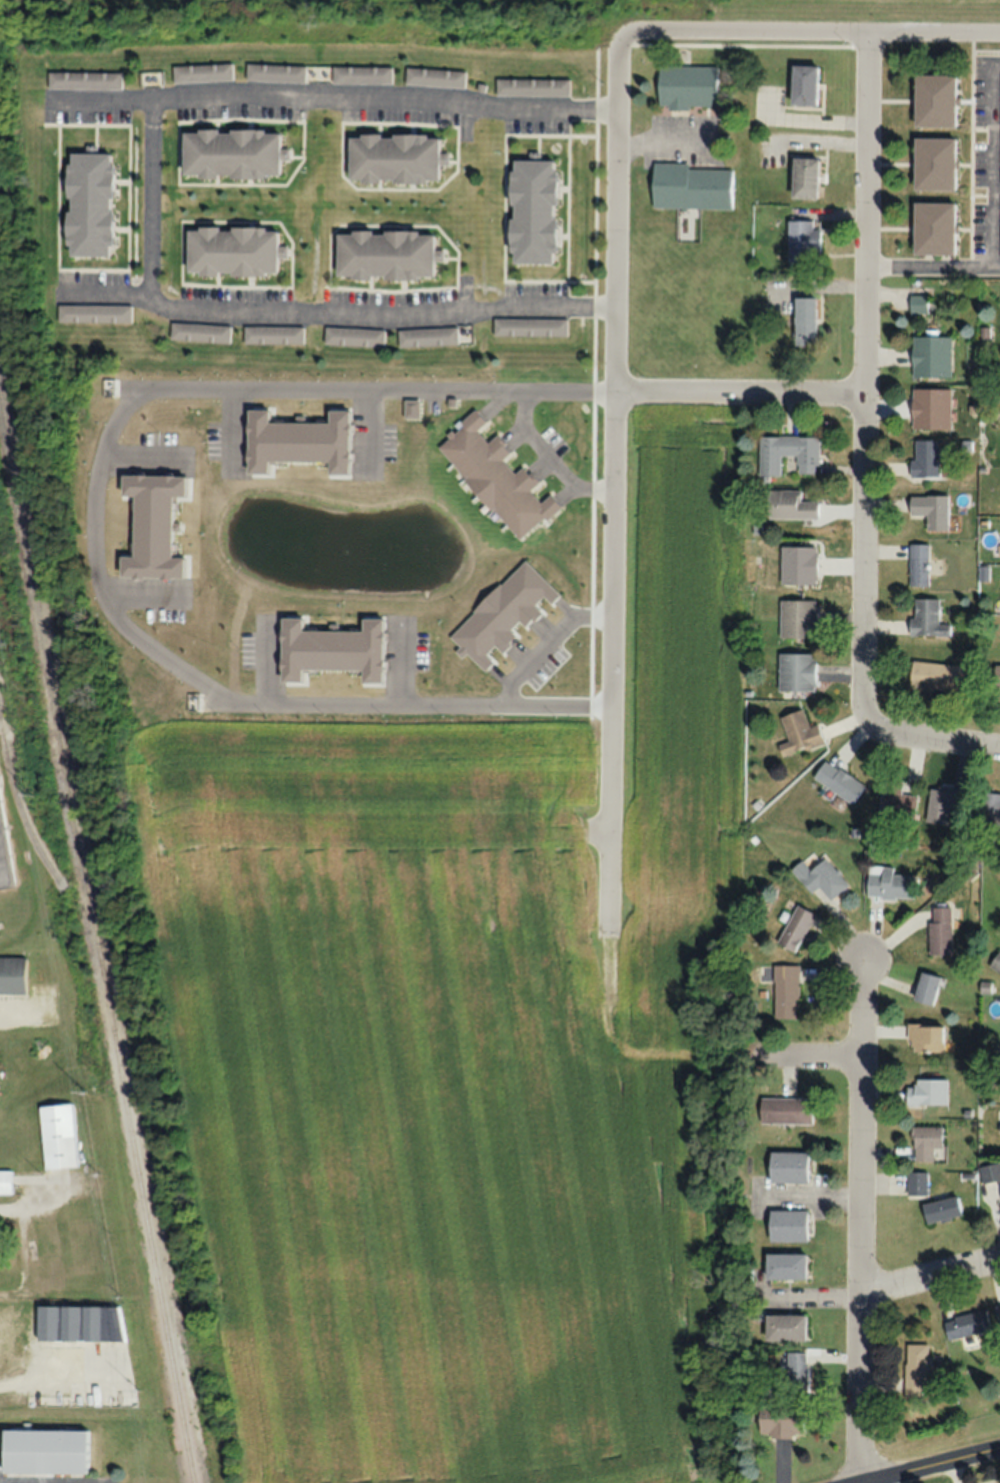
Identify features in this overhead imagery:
crop: (862, 10)
road: (745, 30)
road: (934, 32)
building: (201, 71)
building: (274, 71)
building: (360, 73)
building: (433, 76)
building: (803, 84)
building: (686, 85)
building: (531, 86)
road: (336, 96)
road: (868, 99)
building: (933, 99)
building: (229, 152)
building: (392, 157)
building: (933, 162)
road: (991, 162)
building: (803, 177)
building: (691, 186)
road: (150, 198)
building: (87, 202)
building: (530, 210)
building: (932, 226)
building: (999, 226)
building: (802, 240)
building: (230, 249)
building: (383, 254)
road: (933, 268)
building: (917, 303)
building: (93, 312)
road: (334, 315)
building: (804, 320)
building: (529, 326)
building: (198, 331)
building: (272, 334)
building: (353, 336)
building: (427, 336)
building: (930, 356)
road: (740, 390)
building: (930, 408)
road: (866, 418)
building: (298, 423)
building: (787, 452)
building: (924, 457)
building: (493, 475)
road: (612, 479)
building: (789, 504)
building: (930, 510)
road: (95, 518)
building: (797, 563)
building: (917, 563)
building: (797, 618)
building: (926, 618)
building: (795, 671)
building: (936, 675)
building: (996, 675)
building: (798, 733)
road: (907, 735)
building: (838, 781)
building: (895, 800)
building: (943, 802)
building: (992, 808)
road: (598, 830)
building: (3, 866)
building: (823, 879)
building: (889, 883)
railway: (63, 890)
building: (795, 928)
building: (940, 930)
railway: (97, 940)
building: (996, 963)
building: (11, 975)
building: (926, 988)
building: (785, 991)
building: (925, 1037)
road: (805, 1053)
building: (927, 1092)
building: (784, 1110)
building: (56, 1136)
building: (925, 1141)
building: (787, 1167)
building: (990, 1172)
building: (4, 1181)
building: (916, 1182)
building: (999, 1188)
building: (940, 1209)
road: (859, 1217)
building: (787, 1225)
building: (784, 1266)
road: (929, 1279)
building: (998, 1311)
building: (79, 1323)
building: (966, 1324)
building: (784, 1328)
building: (917, 1368)
building: (795, 1373)
building: (780, 1419)
building: (42, 1452)
road: (924, 1465)
road: (55, 1474)
road: (19, 1478)

